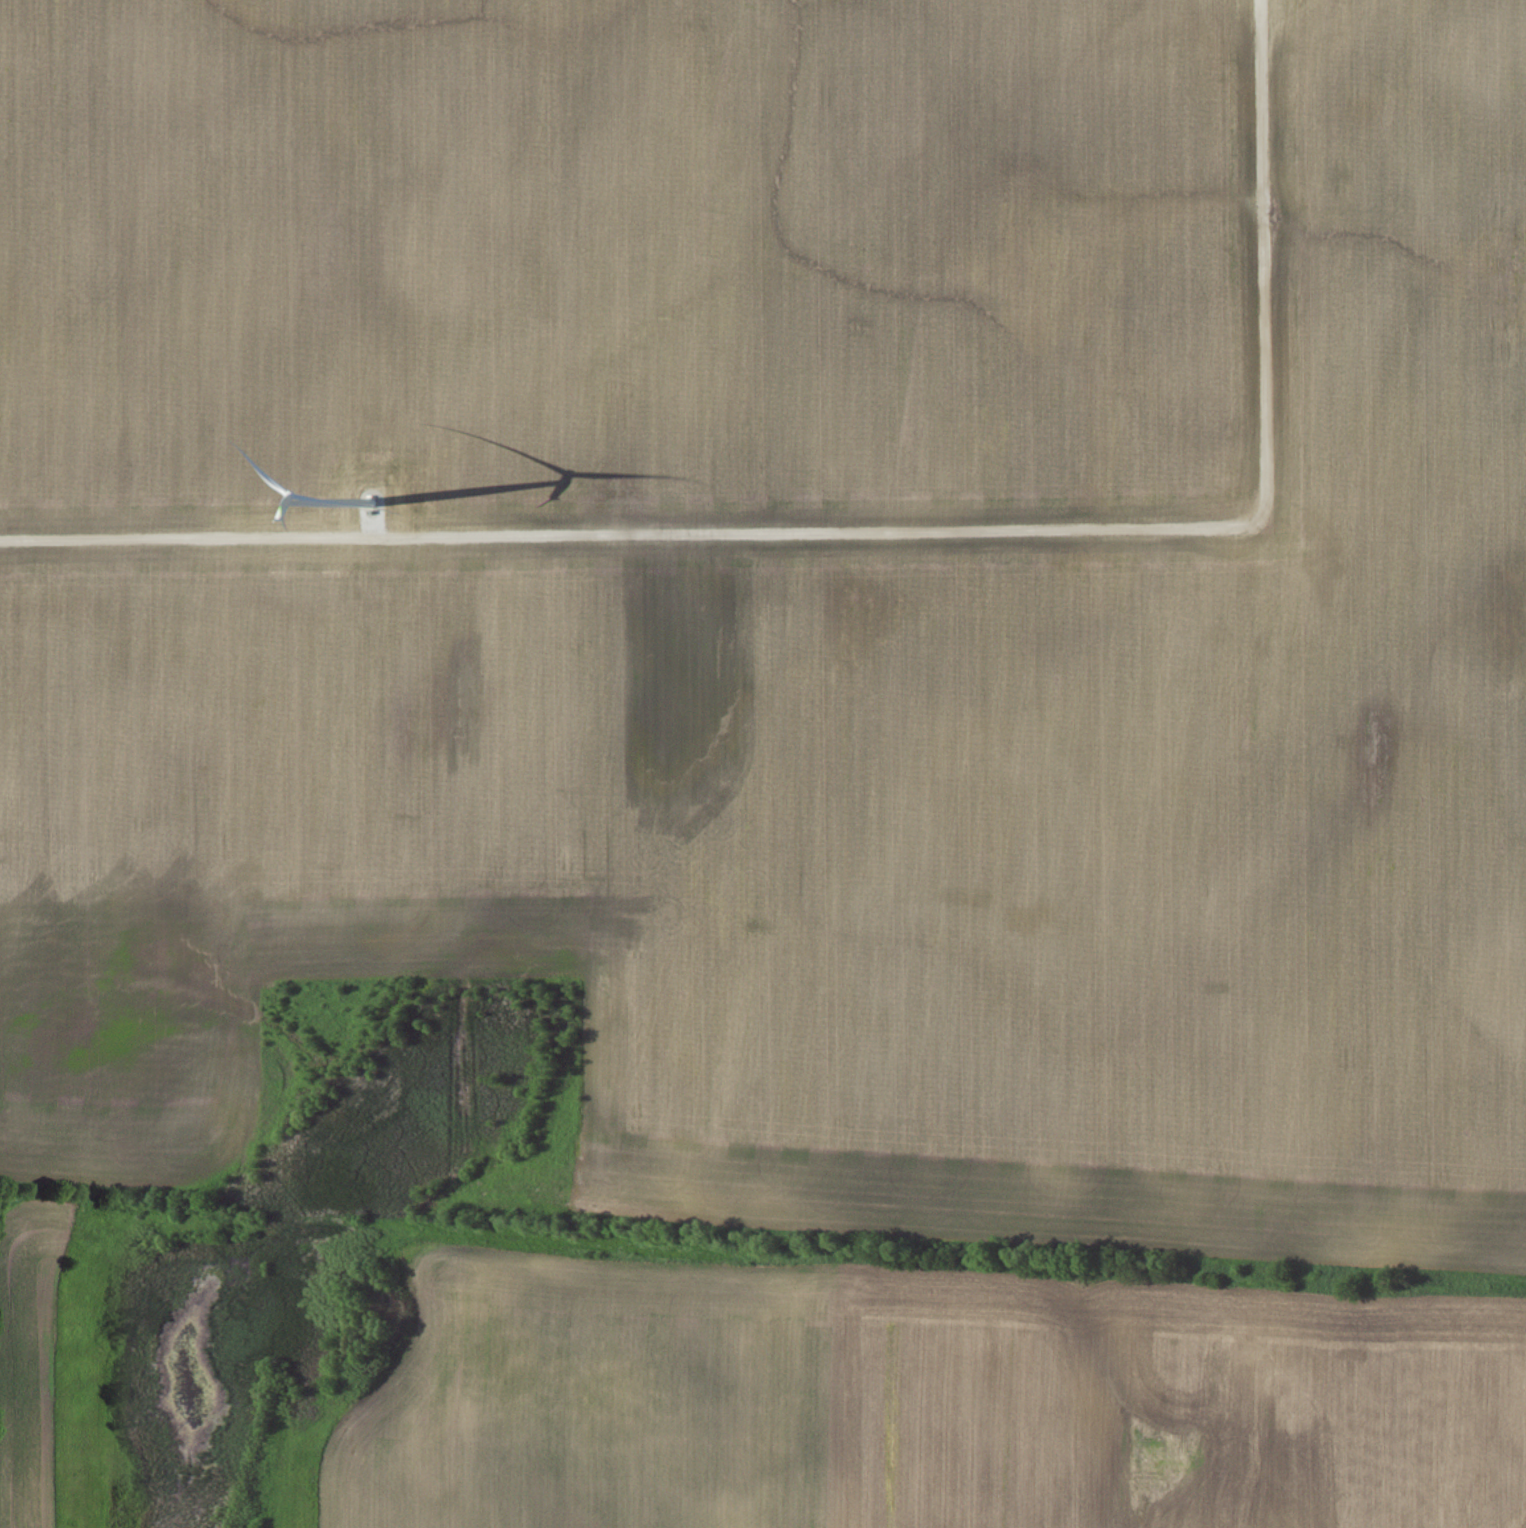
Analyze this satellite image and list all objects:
wind turbine: (357, 501)
road: (889, 531)

